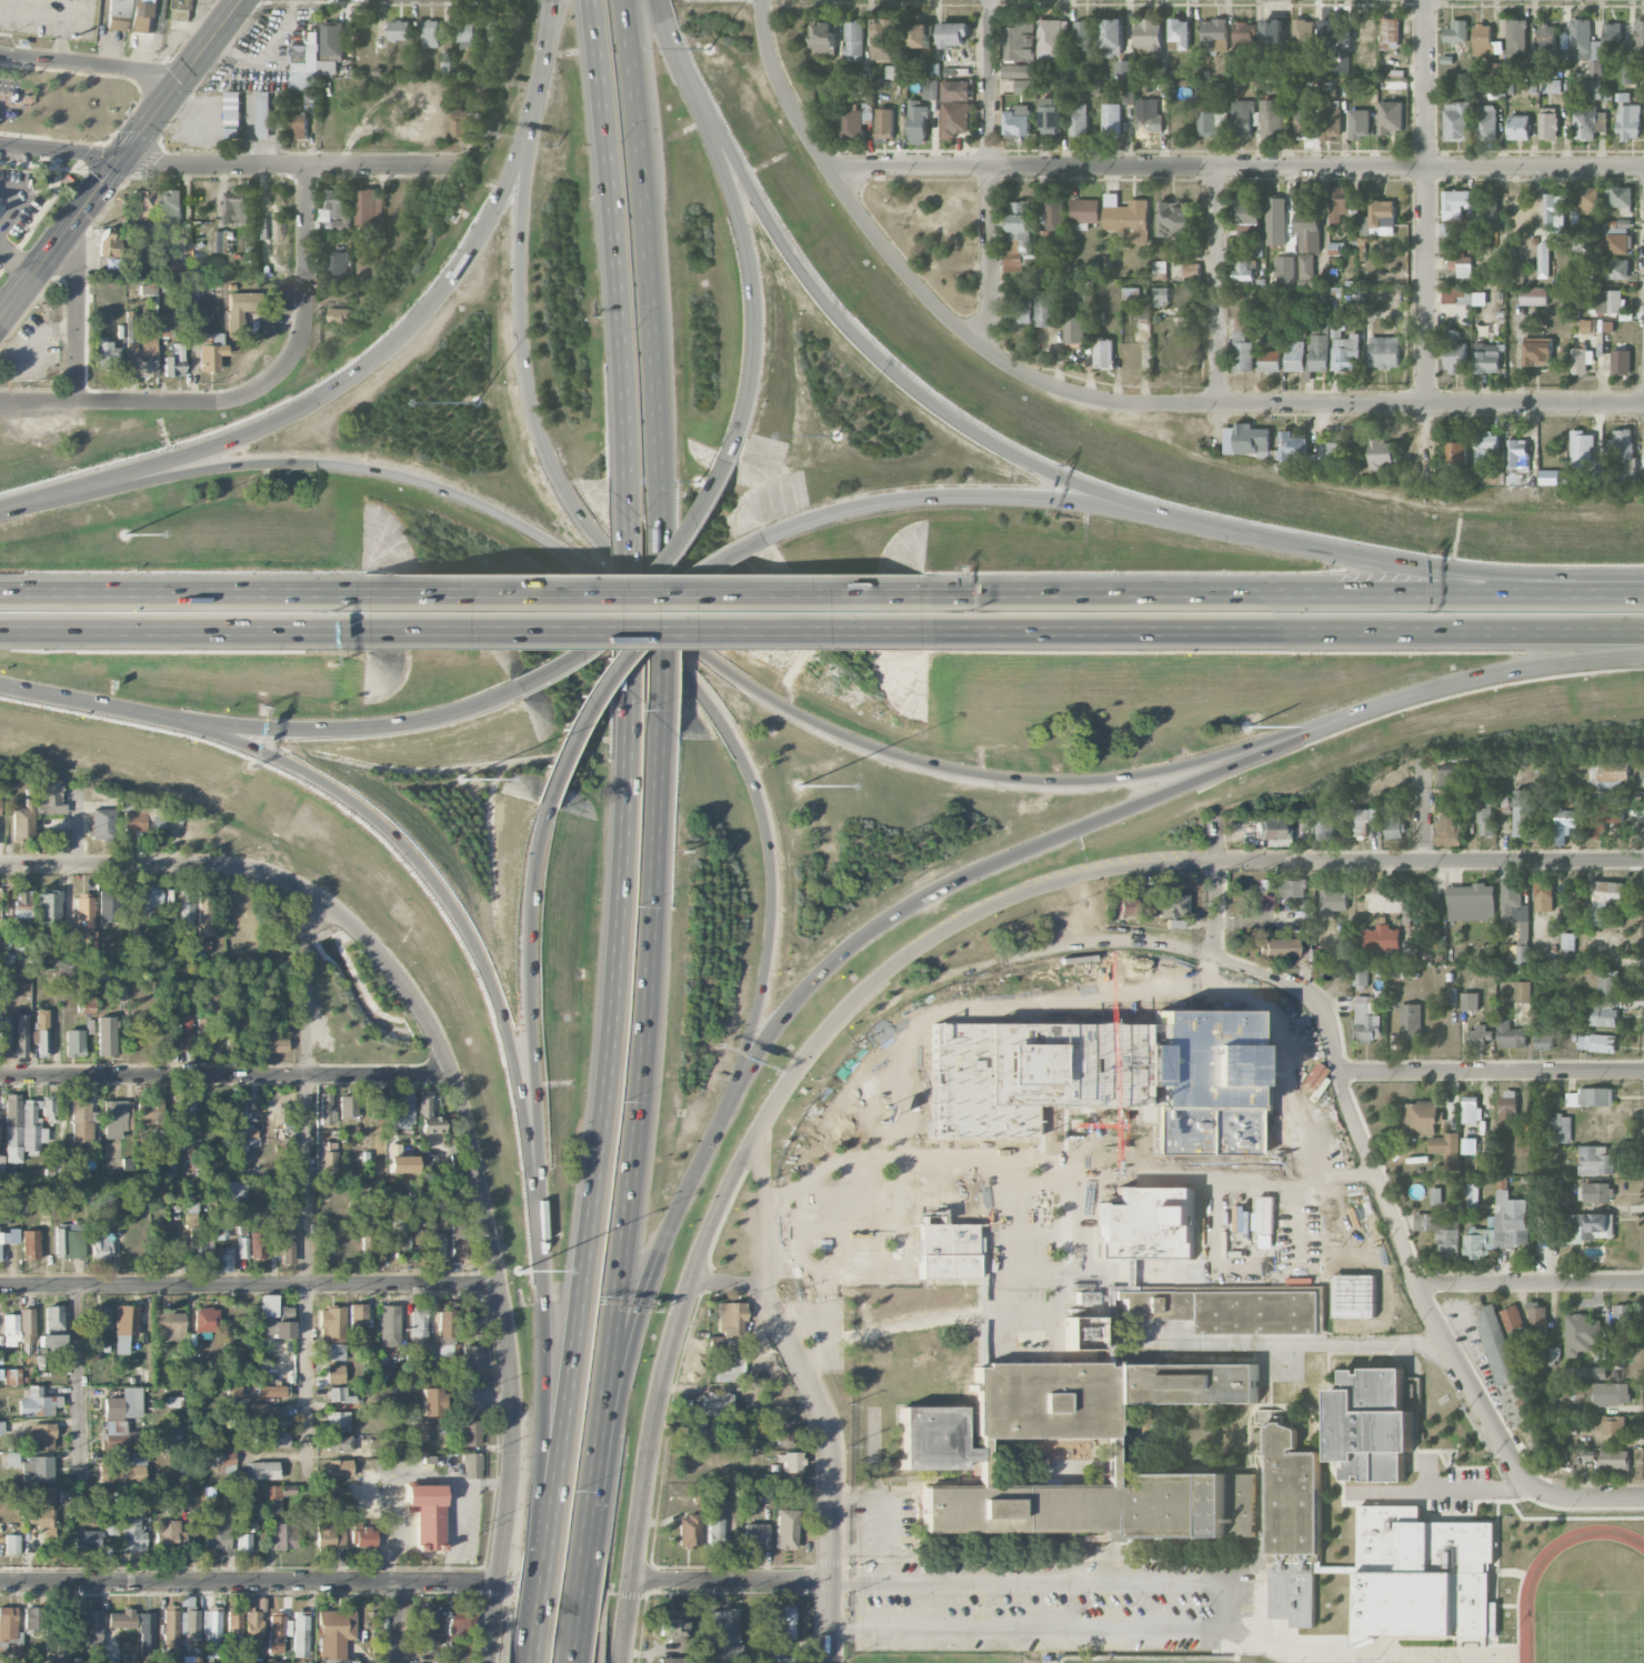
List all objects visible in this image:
building: (182, 9)
road: (51, 12)
building: (119, 14)
building: (148, 14)
road: (544, 28)
building: (400, 30)
building: (1456, 31)
building: (433, 32)
building: (1084, 32)
building: (1390, 32)
building: (467, 33)
building: (497, 33)
building: (954, 33)
building: (1179, 33)
road: (669, 34)
building: (1149, 34)
building: (1214, 34)
building: (1243, 34)
building: (1272, 34)
building: (1334, 34)
building: (919, 36)
building: (1113, 36)
building: (1516, 37)
building: (1612, 38)
building: (823, 39)
building: (885, 39)
building: (1303, 39)
building: (1483, 39)
building: (1640, 39)
building: (333, 40)
building: (854, 40)
building: (1016, 40)
building: (1052, 40)
building: (1628, 41)
building: (1547, 42)
building: (1585, 46)
building: (311, 64)
road: (90, 66)
building: (1125, 67)
building: (1342, 69)
building: (1494, 69)
building: (1530, 70)
building: (896, 71)
building: (1020, 71)
road: (538, 83)
building: (1025, 84)
building: (1551, 86)
building: (1590, 87)
building: (930, 89)
building: (1494, 89)
road: (7, 98)
building: (955, 108)
building: (234, 113)
building: (264, 114)
building: (1052, 116)
building: (1302, 117)
building: (1392, 117)
building: (1627, 118)
building: (1112, 119)
building: (1243, 119)
building: (1273, 119)
building: (1080, 120)
building: (1331, 120)
building: (1487, 120)
building: (853, 121)
building: (1019, 121)
building: (1457, 121)
building: (1585, 121)
building: (918, 122)
building: (1150, 122)
building: (884, 123)
building: (1207, 123)
building: (1360, 123)
building: (1548, 123)
building: (464, 124)
building: (299, 126)
building: (1518, 127)
road: (61, 150)
traffic signals: (122, 158)
road: (120, 160)
road: (291, 164)
road: (1236, 168)
road: (991, 174)
road: (842, 190)
building: (1618, 197)
building: (1588, 200)
road: (19, 201)
building: (1339, 202)
building: (1455, 203)
building: (143, 204)
road: (758, 204)
building: (237, 206)
building: (172, 207)
building: (337, 207)
building: (368, 207)
building: (1488, 210)
building: (1249, 211)
building: (1085, 212)
building: (1554, 212)
building: (1127, 217)
building: (1174, 218)
building: (1379, 219)
building: (1275, 220)
building: (1624, 222)
building: (1055, 224)
building: (1309, 229)
building: (1448, 229)
building: (1242, 231)
building: (1578, 234)
road: (1426, 236)
road: (614, 239)
building: (220, 241)
building: (111, 243)
building: (1615, 243)
building: (1362, 247)
building: (1336, 248)
building: (1494, 252)
building: (1543, 260)
road: (17, 261)
road: (750, 261)
building: (339, 263)
building: (1461, 264)
building: (1305, 266)
building: (1160, 267)
road: (649, 269)
building: (1244, 269)
building: (1284, 269)
building: (1613, 269)
building: (1043, 270)
building: (1191, 270)
road: (308, 279)
road: (1217, 287)
building: (1131, 293)
building: (1161, 295)
building: (1457, 295)
building: (1533, 295)
building: (1478, 298)
building: (1610, 300)
building: (1044, 308)
road: (78, 310)
building: (241, 310)
building: (1142, 312)
building: (1019, 313)
building: (340, 314)
building: (130, 325)
building: (1587, 325)
building: (1605, 325)
building: (1074, 329)
building: (1319, 329)
building: (1242, 343)
parking lot: (34, 348)
building: (1384, 351)
building: (1537, 351)
building: (1104, 352)
building: (1317, 352)
building: (211, 353)
building: (1344, 353)
building: (1455, 353)
building: (104, 354)
building: (1294, 355)
building: (141, 357)
building: (1487, 358)
building: (1580, 359)
building: (1270, 360)
building: (174, 361)
building: (1621, 361)
road: (331, 390)
road: (138, 399)
road: (1305, 404)
building: (1246, 440)
building: (1623, 443)
building: (1581, 444)
building: (1291, 447)
building: (1486, 452)
building: (1382, 453)
building: (1456, 453)
road: (1018, 455)
building: (1330, 455)
building: (1517, 459)
building: (1627, 469)
building: (1552, 477)
road: (993, 497)
road: (1429, 564)
road: (630, 572)
road: (612, 590)
road: (186, 592)
road: (509, 594)
road: (786, 597)
road: (649, 598)
road: (1285, 599)
road: (183, 631)
road: (784, 631)
road: (1284, 631)
road: (507, 632)
road: (661, 632)
road: (632, 645)
road: (1498, 672)
road: (741, 678)
road: (106, 710)
road: (370, 730)
building: (1607, 773)
building: (1455, 777)
building: (49, 797)
building: (1617, 797)
road: (1422, 810)
building: (1522, 812)
building: (1485, 819)
building: (1602, 819)
building: (23, 821)
building: (1363, 821)
building: (101, 824)
building: (1564, 824)
building: (133, 825)
building: (1325, 827)
building: (1394, 827)
building: (1447, 828)
building: (1271, 829)
road: (81, 834)
building: (57, 842)
road: (1012, 853)
road: (1429, 860)
road: (203, 864)
road: (40, 866)
building: (1292, 889)
building: (1544, 896)
building: (170, 898)
building: (1604, 898)
building: (150, 900)
building: (1333, 901)
building: (1513, 901)
building: (1471, 902)
building: (22, 903)
building: (1171, 904)
building: (1127, 905)
building: (109, 906)
building: (186, 908)
building: (48, 909)
road: (1214, 909)
building: (204, 910)
building: (84, 911)
building: (1381, 938)
building: (1568, 943)
building: (1275, 948)
building: (1521, 951)
building: (1361, 976)
building: (1607, 982)
building: (1523, 991)
building: (1470, 1001)
building: (88, 1004)
building: (1523, 1009)
building: (1602, 1013)
building: (1411, 1019)
building: (1367, 1020)
building: (231, 1022)
building: (184, 1029)
building: (41, 1030)
building: (203, 1030)
building: (1511, 1034)
building: (4, 1035)
building: (21, 1035)
building: (1480, 1035)
building: (107, 1036)
road: (530, 1036)
building: (1545, 1042)
building: (1596, 1042)
building: (74, 1043)
building: (274, 1043)
road: (1336, 1062)
road: (1491, 1072)
road: (227, 1075)
road: (638, 1095)
building: (1591, 1096)
building: (378, 1104)
building: (348, 1105)
building: (1508, 1105)
building: (404, 1106)
building: (327, 1109)
building: (1470, 1109)
building: (149, 1110)
road: (521, 1110)
building: (184, 1115)
building: (1421, 1116)
building: (116, 1118)
building: (428, 1118)
building: (81, 1121)
building: (26, 1124)
building: (244, 1124)
road: (758, 1128)
building: (1560, 1128)
building: (1523, 1143)
road: (598, 1149)
building: (328, 1159)
building: (60, 1160)
building: (1596, 1160)
building: (431, 1162)
building: (401, 1164)
building: (945, 1172)
road: (1132, 1175)
road: (308, 1185)
building: (232, 1191)
building: (1597, 1192)
building: (1436, 1195)
road: (765, 1204)
road: (898, 1205)
building: (1149, 1223)
building: (221, 1225)
building: (288, 1225)
building: (1592, 1225)
building: (1501, 1228)
building: (1274, 1229)
building: (1441, 1231)
building: (9, 1236)
building: (367, 1236)
building: (459, 1236)
building: (1343, 1239)
building: (69, 1242)
building: (100, 1243)
building: (198, 1243)
building: (30, 1244)
building: (257, 1245)
building: (435, 1245)
building: (242, 1248)
building: (287, 1249)
road: (495, 1254)
building: (223, 1260)
road: (645, 1270)
road: (1531, 1283)
road: (726, 1284)
road: (250, 1285)
building: (1085, 1298)
building: (1234, 1310)
building: (357, 1315)
building: (1352, 1315)
building: (1537, 1315)
building: (100, 1318)
building: (274, 1318)
building: (1512, 1318)
building: (207, 1320)
building: (447, 1323)
building: (730, 1323)
building: (27, 1324)
building: (332, 1324)
building: (389, 1325)
building: (52, 1326)
building: (124, 1326)
building: (170, 1326)
building: (418, 1326)
building: (11, 1330)
building: (1622, 1330)
building: (1080, 1333)
building: (1581, 1333)
road: (1293, 1342)
building: (1496, 1345)
building: (335, 1351)
building: (42, 1358)
building: (471, 1358)
building: (729, 1370)
building: (1590, 1372)
building: (334, 1373)
building: (12, 1376)
building: (1186, 1382)
road: (80, 1383)
building: (1376, 1385)
building: (270, 1391)
building: (1612, 1393)
building: (1046, 1401)
building: (432, 1402)
building: (38, 1403)
building: (715, 1403)
building: (267, 1410)
building: (338, 1419)
building: (122, 1420)
building: (1614, 1423)
building: (1366, 1425)
building: (1, 1427)
building: (782, 1430)
building: (418, 1432)
building: (472, 1433)
building: (698, 1434)
building: (41, 1436)
building: (271, 1440)
building: (934, 1441)
building: (339, 1443)
building: (1614, 1459)
building: (1107, 1461)
building: (225, 1462)
building: (791, 1462)
building: (471, 1465)
building: (1375, 1465)
road: (832, 1466)
building: (340, 1467)
building: (37, 1470)
building: (124, 1470)
building: (262, 1470)
road: (429, 1479)
road: (487, 1485)
road: (1440, 1489)
building: (288, 1490)
building: (208, 1493)
building: (337, 1495)
building: (64, 1497)
road: (1587, 1497)
building: (273, 1499)
building: (179, 1502)
building: (1161, 1502)
building: (41, 1509)
building: (429, 1515)
building: (110, 1521)
building: (250, 1526)
building: (785, 1529)
building: (217, 1531)
building: (689, 1531)
building: (714, 1532)
building: (330, 1534)
building: (131, 1535)
building: (168, 1535)
building: (281, 1535)
building: (363, 1536)
building: (755, 1536)
parking lot: (399, 1539)
building: (87, 1540)
building: (243, 1542)
building: (11, 1544)
road: (583, 1564)
building: (1425, 1575)
road: (249, 1580)
road: (732, 1582)
road: (839, 1582)
road: (613, 1592)
track: (1527, 1594)
road: (505, 1597)
road: (1217, 1604)
building: (36, 1619)
building: (121, 1619)
building: (234, 1622)
road: (397, 1622)
building: (783, 1622)
building: (8, 1623)
building: (672, 1624)
building: (170, 1625)
building: (190, 1625)
building: (212, 1625)
building: (92, 1626)
building: (146, 1626)
building: (253, 1626)
park: (1596, 1626)
building: (427, 1627)
road: (839, 1627)
building: (461, 1630)
building: (335, 1632)
building: (279, 1633)
building: (300, 1633)
road: (505, 1633)
road: (601, 1633)
building: (722, 1636)
road: (530, 1646)
building: (58, 1652)
building: (191, 1659)
building: (334, 1661)

